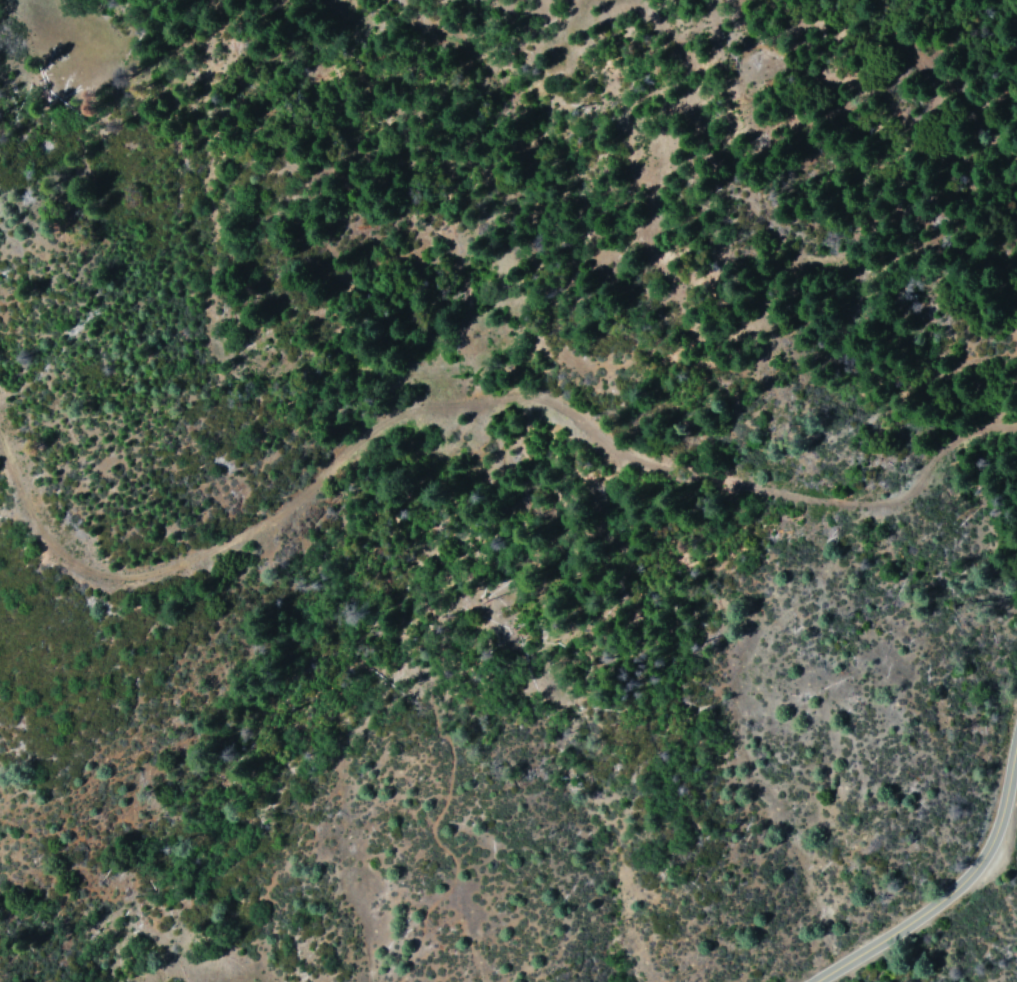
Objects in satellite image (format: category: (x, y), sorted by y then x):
road: (954, 888)

